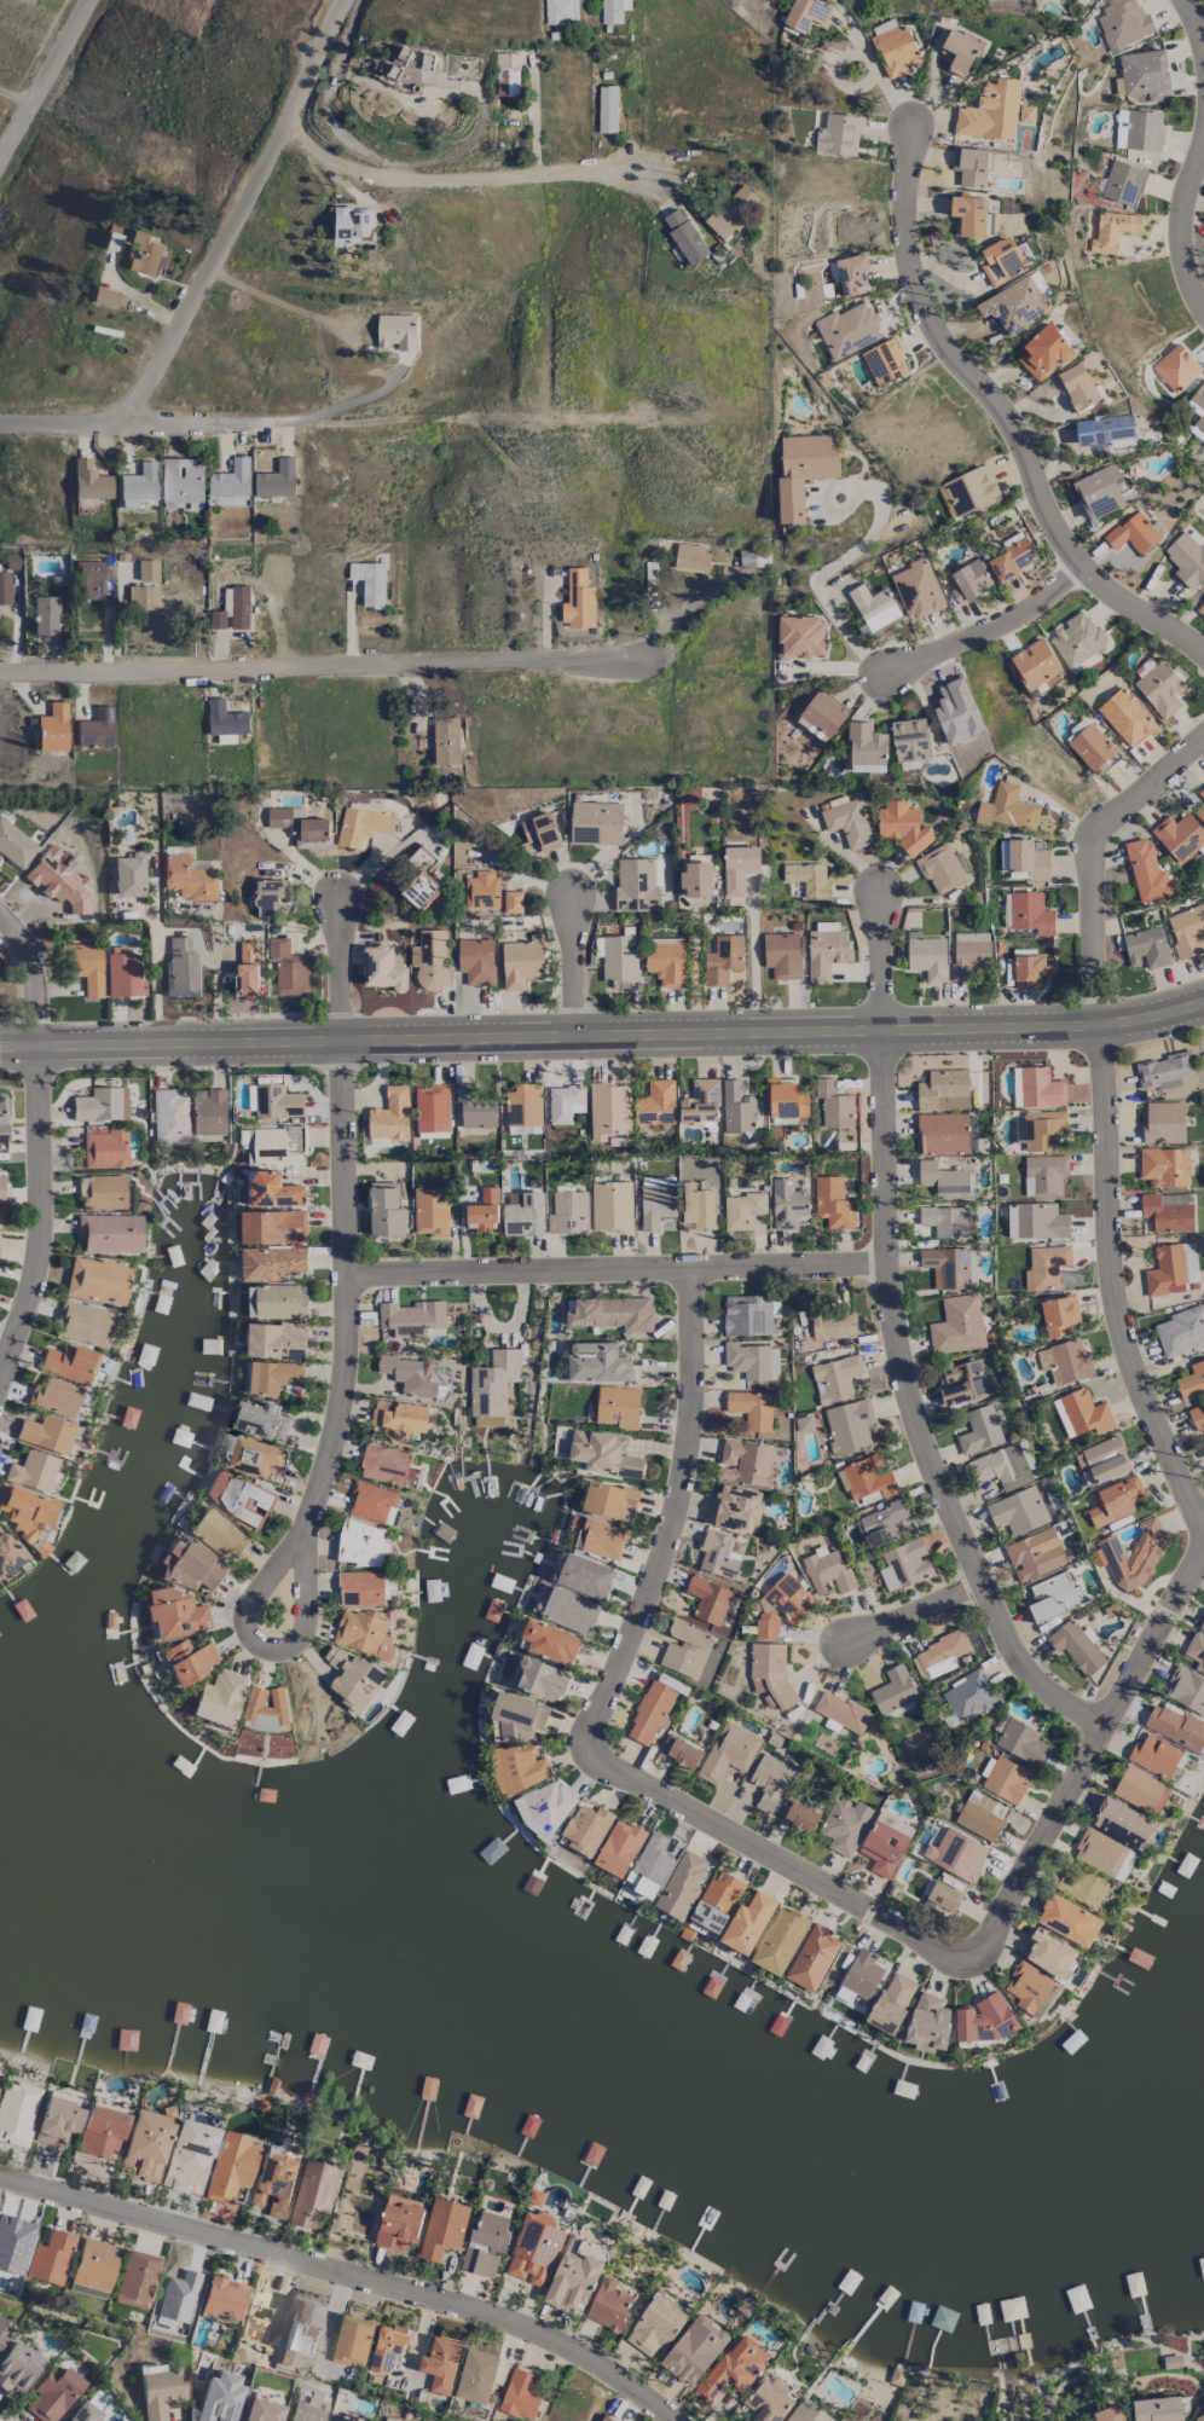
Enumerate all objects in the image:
building: (612, 10)
building: (560, 11)
building: (806, 13)
road: (1193, 21)
building: (1121, 22)
building: (893, 47)
building: (959, 50)
road: (875, 73)
building: (1145, 74)
road: (46, 80)
building: (507, 82)
road: (15, 100)
building: (607, 109)
building: (990, 111)
road: (494, 129)
building: (1138, 129)
building: (839, 134)
building: (969, 166)
road: (452, 172)
building: (1123, 183)
road: (239, 205)
building: (733, 210)
building: (968, 215)
road: (1181, 221)
building: (352, 224)
building: (1112, 230)
building: (684, 236)
building: (1001, 260)
building: (852, 273)
building: (1014, 305)
building: (847, 330)
building: (1042, 353)
building: (885, 361)
building: (1077, 386)
building: (1198, 407)
road: (326, 411)
road: (1007, 416)
building: (1104, 430)
building: (803, 470)
building: (231, 479)
building: (181, 480)
building: (276, 480)
building: (88, 481)
building: (138, 486)
building: (972, 488)
building: (1099, 491)
building: (227, 500)
building: (1131, 533)
building: (690, 556)
building: (1012, 557)
building: (1187, 557)
road: (826, 569)
building: (146, 571)
building: (88, 579)
building: (369, 581)
building: (969, 581)
building: (5, 587)
building: (916, 589)
building: (143, 598)
building: (578, 600)
building: (874, 606)
building: (239, 607)
building: (1200, 608)
building: (44, 615)
building: (216, 619)
road: (984, 627)
building: (800, 636)
building: (1076, 638)
building: (1034, 664)
road: (313, 665)
building: (1158, 687)
building: (956, 712)
building: (821, 716)
building: (1124, 716)
building: (225, 718)
building: (51, 729)
building: (94, 729)
building: (910, 740)
building: (445, 741)
building: (1090, 747)
building: (866, 748)
building: (1200, 793)
building: (1007, 809)
building: (1200, 813)
building: (846, 821)
building: (299, 823)
building: (595, 823)
building: (361, 826)
building: (902, 826)
building: (540, 830)
building: (15, 845)
building: (1025, 861)
building: (739, 867)
building: (939, 869)
building: (1146, 871)
building: (128, 875)
building: (187, 878)
building: (696, 879)
building: (808, 879)
building: (635, 884)
building: (421, 890)
building: (482, 890)
building: (268, 897)
building: (511, 902)
building: (1029, 913)
building: (1186, 929)
road: (155, 945)
building: (1145, 948)
road: (12, 952)
building: (824, 952)
building: (968, 952)
building: (782, 955)
building: (926, 956)
building: (429, 958)
building: (722, 958)
building: (475, 960)
building: (619, 961)
building: (521, 962)
building: (666, 962)
road: (573, 963)
building: (85, 967)
building: (248, 967)
road: (752, 968)
building: (381, 969)
building: (1031, 969)
building: (122, 973)
road: (214, 981)
road: (602, 1035)
building: (1163, 1071)
building: (1036, 1088)
building: (943, 1090)
building: (786, 1100)
building: (282, 1101)
building: (563, 1102)
building: (655, 1102)
building: (700, 1102)
building: (522, 1104)
building: (833, 1104)
building: (100, 1105)
building: (432, 1107)
building: (736, 1107)
road: (1104, 1107)
building: (474, 1108)
building: (609, 1110)
building: (207, 1111)
building: (389, 1116)
building: (168, 1117)
building: (1163, 1122)
building: (2, 1123)
building: (1037, 1129)
building: (971, 1133)
building: (942, 1134)
road: (42, 1142)
building: (276, 1143)
building: (104, 1149)
building: (1164, 1166)
building: (1043, 1175)
building: (943, 1180)
building: (274, 1189)
building: (0, 1191)
building: (100, 1192)
building: (832, 1201)
building: (787, 1203)
building: (656, 1205)
building: (610, 1206)
building: (697, 1206)
building: (384, 1209)
building: (742, 1209)
building: (482, 1210)
building: (430, 1211)
building: (1168, 1211)
building: (0, 1212)
building: (568, 1212)
building: (522, 1214)
building: (945, 1221)
building: (1036, 1221)
building: (273, 1227)
building: (106, 1233)
building: (299, 1261)
building: (1044, 1265)
building: (947, 1267)
road: (618, 1268)
building: (1171, 1269)
building: (94, 1280)
building: (280, 1301)
building: (612, 1313)
building: (747, 1315)
building: (1058, 1315)
building: (411, 1316)
building: (82, 1325)
building: (830, 1325)
building: (957, 1325)
road: (905, 1330)
building: (1180, 1330)
building: (276, 1340)
road: (5, 1345)
road: (343, 1353)
building: (752, 1360)
building: (1064, 1361)
building: (597, 1362)
building: (68, 1363)
building: (409, 1373)
building: (273, 1375)
building: (834, 1378)
building: (492, 1382)
building: (1191, 1382)
building: (961, 1383)
building: (52, 1396)
building: (617, 1406)
building: (751, 1408)
building: (1081, 1413)
building: (399, 1417)
building: (1197, 1417)
building: (260, 1420)
building: (849, 1425)
building: (979, 1430)
building: (44, 1435)
building: (602, 1453)
building: (255, 1456)
building: (1101, 1460)
building: (745, 1463)
building: (384, 1464)
building: (1001, 1467)
building: (30, 1471)
building: (608, 1499)
building: (243, 1500)
building: (1113, 1500)
building: (372, 1502)
building: (735, 1507)
building: (24, 1511)
building: (1018, 1511)
building: (882, 1523)
building: (216, 1534)
building: (601, 1537)
building: (363, 1543)
building: (7, 1553)
building: (719, 1553)
building: (1034, 1553)
building: (1133, 1554)
building: (904, 1564)
building: (189, 1566)
building: (827, 1571)
building: (583, 1575)
building: (361, 1588)
building: (1053, 1597)
building: (707, 1599)
building: (788, 1599)
building: (569, 1610)
building: (173, 1614)
road: (915, 1614)
building: (766, 1626)
building: (1202, 1626)
building: (363, 1633)
building: (550, 1641)
building: (1075, 1646)
building: (685, 1649)
building: (1196, 1651)
building: (938, 1655)
building: (186, 1661)
building: (769, 1672)
building: (352, 1676)
building: (539, 1678)
building: (1186, 1689)
building: (892, 1690)
building: (968, 1696)
building: (220, 1698)
building: (265, 1707)
building: (649, 1712)
building: (840, 1713)
building: (519, 1715)
road: (596, 1716)
building: (1175, 1726)
building: (1020, 1741)
road: (1089, 1750)
building: (681, 1751)
building: (728, 1751)
building: (1153, 1755)
building: (517, 1767)
building: (1003, 1778)
building: (769, 1780)
building: (1140, 1790)
building: (545, 1806)
building: (798, 1814)
building: (980, 1814)
building: (895, 1823)
building: (1123, 1823)
building: (844, 1824)
building: (586, 1829)
building: (619, 1847)
building: (882, 1848)
building: (1102, 1852)
building: (956, 1854)
building: (649, 1865)
building: (682, 1884)
building: (1081, 1886)
building: (942, 1898)
building: (714, 1902)
building: (1067, 1919)
building: (748, 1923)
building: (780, 1940)
building: (1049, 1954)
building: (812, 1957)
building: (861, 1974)
building: (1028, 1986)
building: (891, 2002)
building: (984, 2020)
building: (928, 2022)
building: (17, 2110)
building: (57, 2119)
building: (100, 2132)
building: (144, 2145)
building: (186, 2156)
building: (230, 2167)
building: (273, 2182)
building: (313, 2193)
building: (536, 2196)
building: (398, 2225)
building: (442, 2228)
building: (13, 2243)
building: (485, 2243)
building: (534, 2248)
building: (48, 2258)
building: (92, 2265)
road: (347, 2276)
building: (574, 2276)
building: (135, 2280)
building: (86, 2290)
building: (222, 2298)
building: (609, 2305)
building: (655, 2326)
building: (351, 2342)
building: (387, 2347)
building: (695, 2350)
building: (441, 2362)
building: (17, 2367)
building: (734, 2368)
building: (475, 2376)
building: (896, 2376)
building: (158, 2393)
building: (52, 2394)
building: (519, 2394)
building: (769, 2400)
building: (1203, 2405)
building: (1157, 2409)
building: (307, 2410)
building: (260, 2411)
building: (85, 2413)
building: (805, 2413)
building: (203, 2414)
building: (1109, 2414)
building: (1199, 2417)
building: (347, 2419)
building: (390, 2419)

